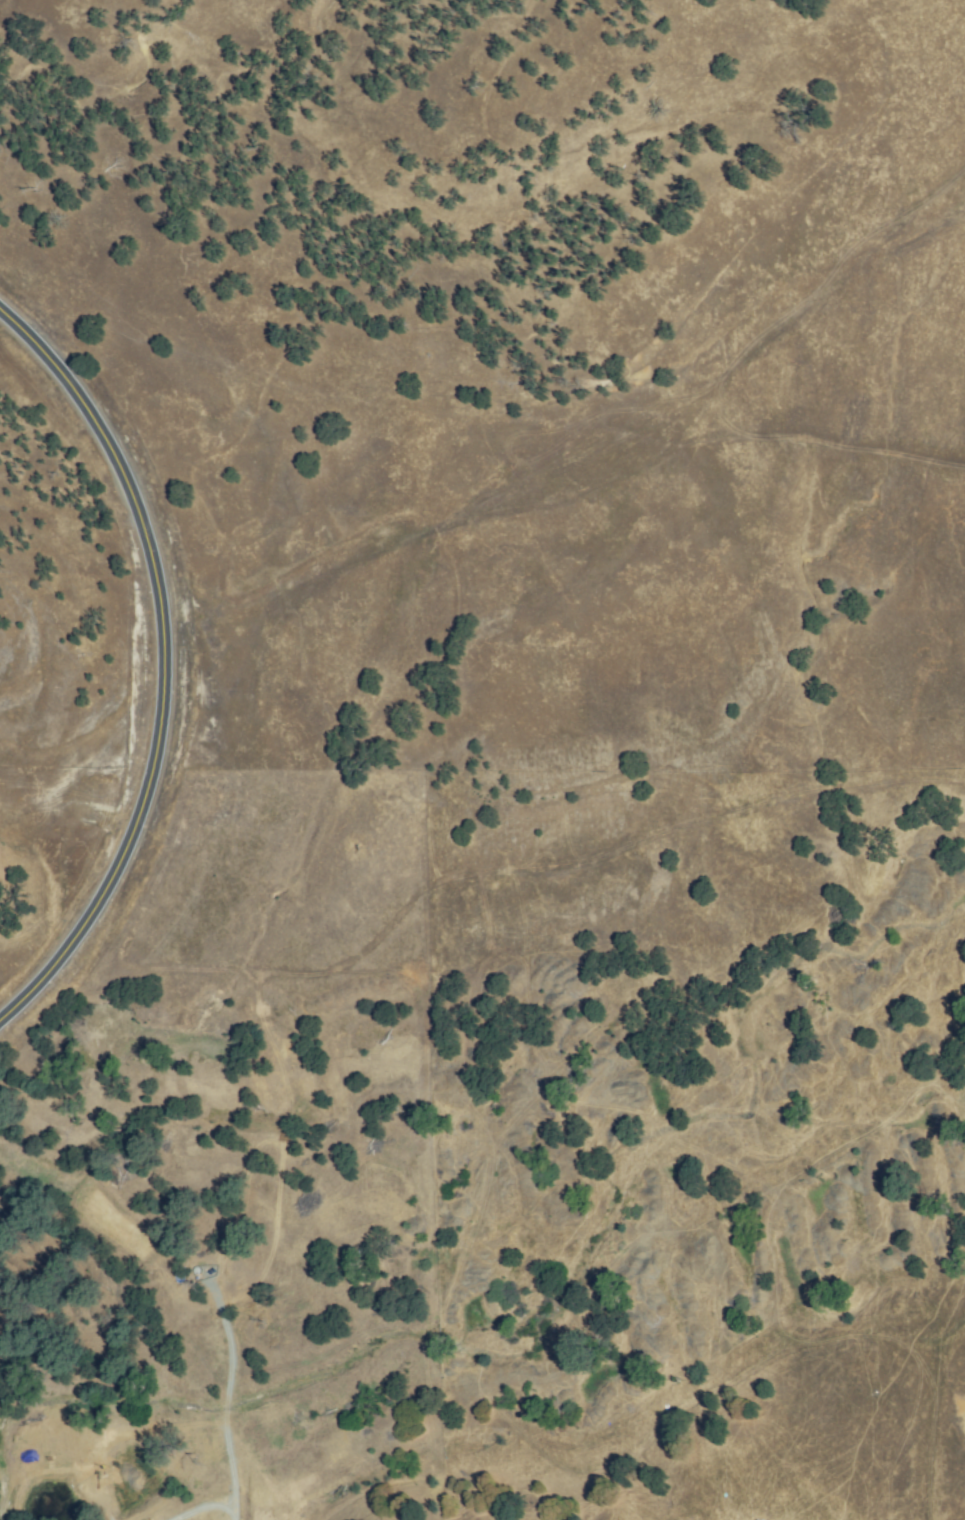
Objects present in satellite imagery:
road: (161, 666)
road: (224, 1405)

